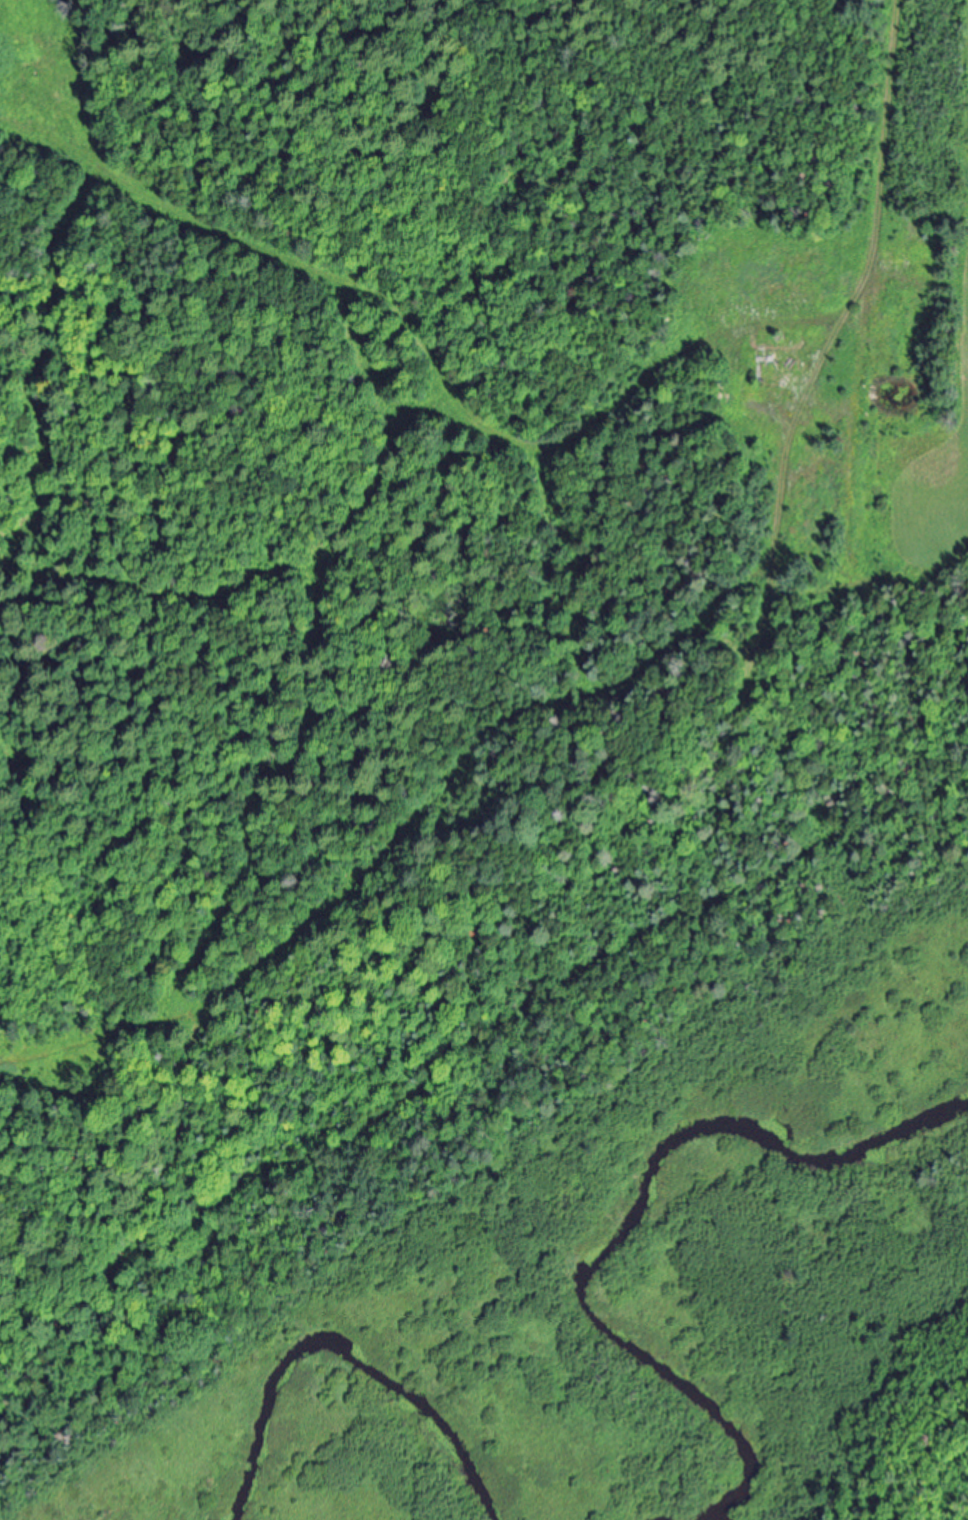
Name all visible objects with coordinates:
building: (780, 362)

